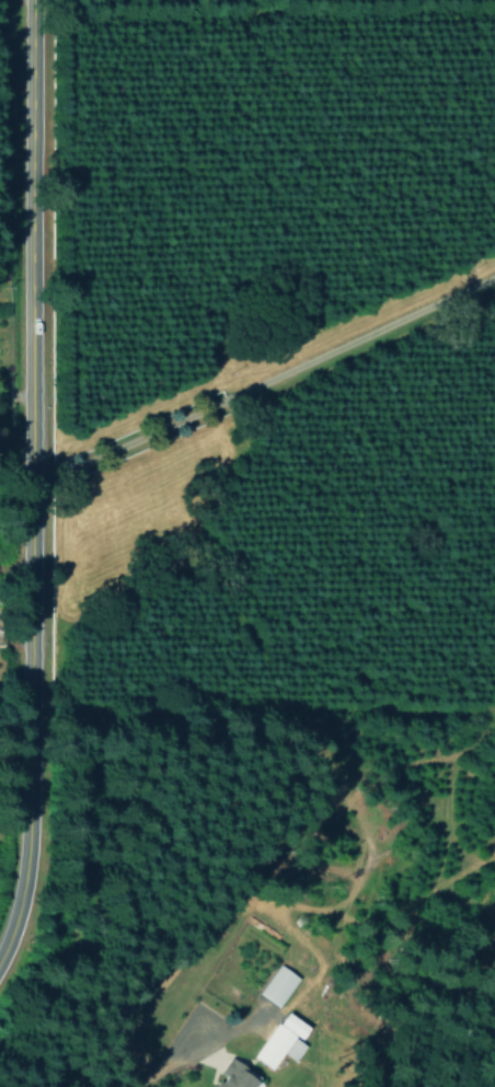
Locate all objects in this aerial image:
road: (258, 381)
road: (23, 462)
building: (276, 985)
building: (277, 1041)
building: (231, 1076)

